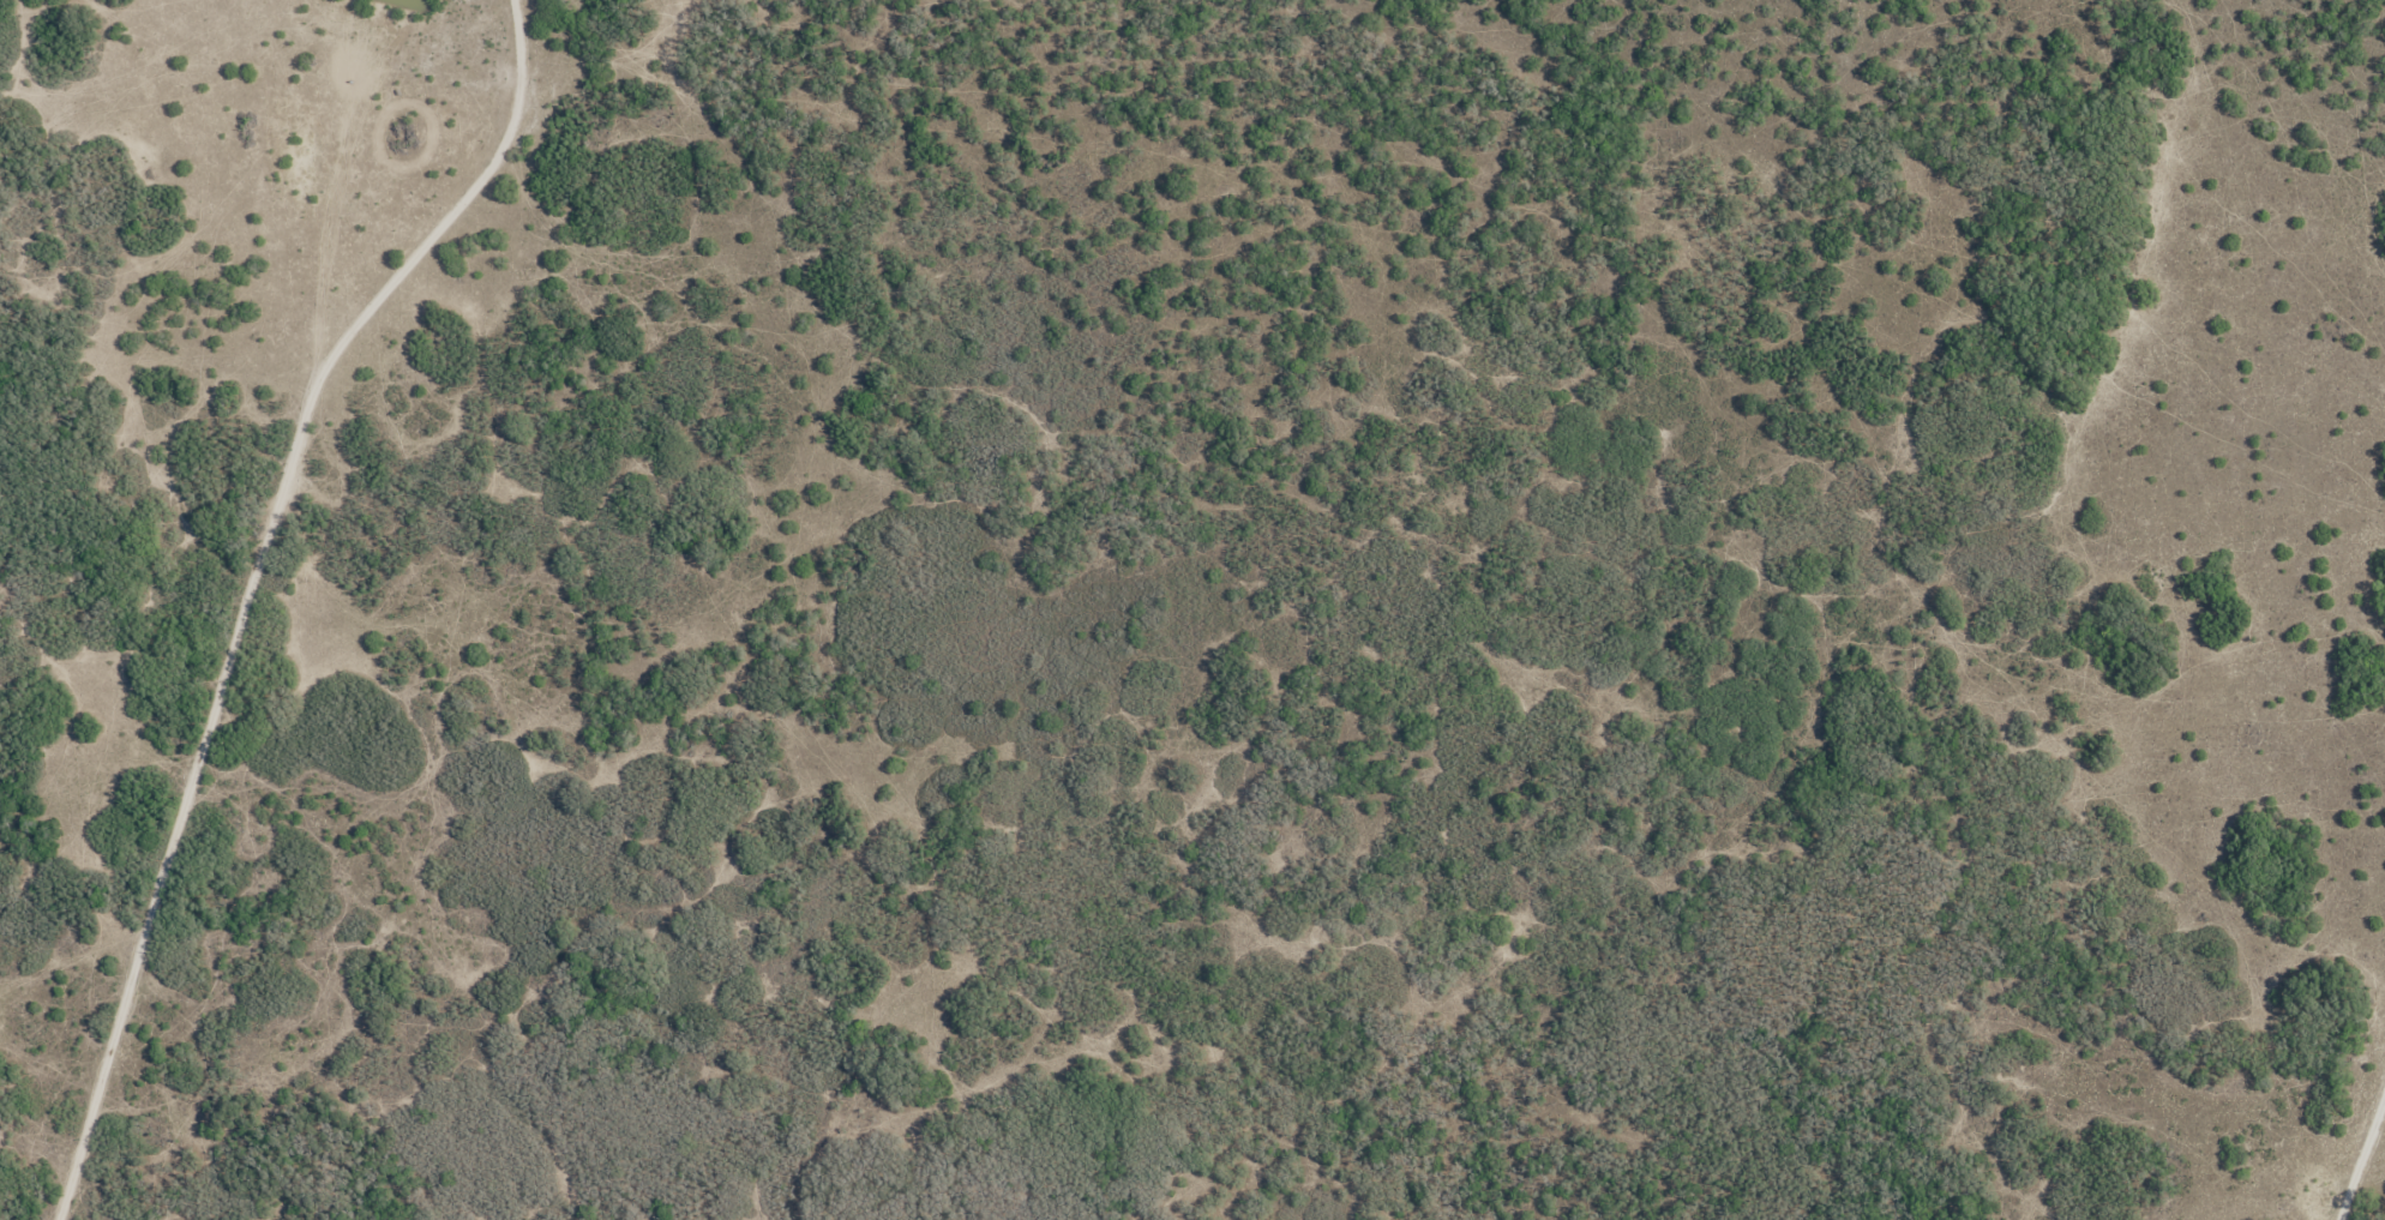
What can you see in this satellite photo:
road: (2369, 1182)

